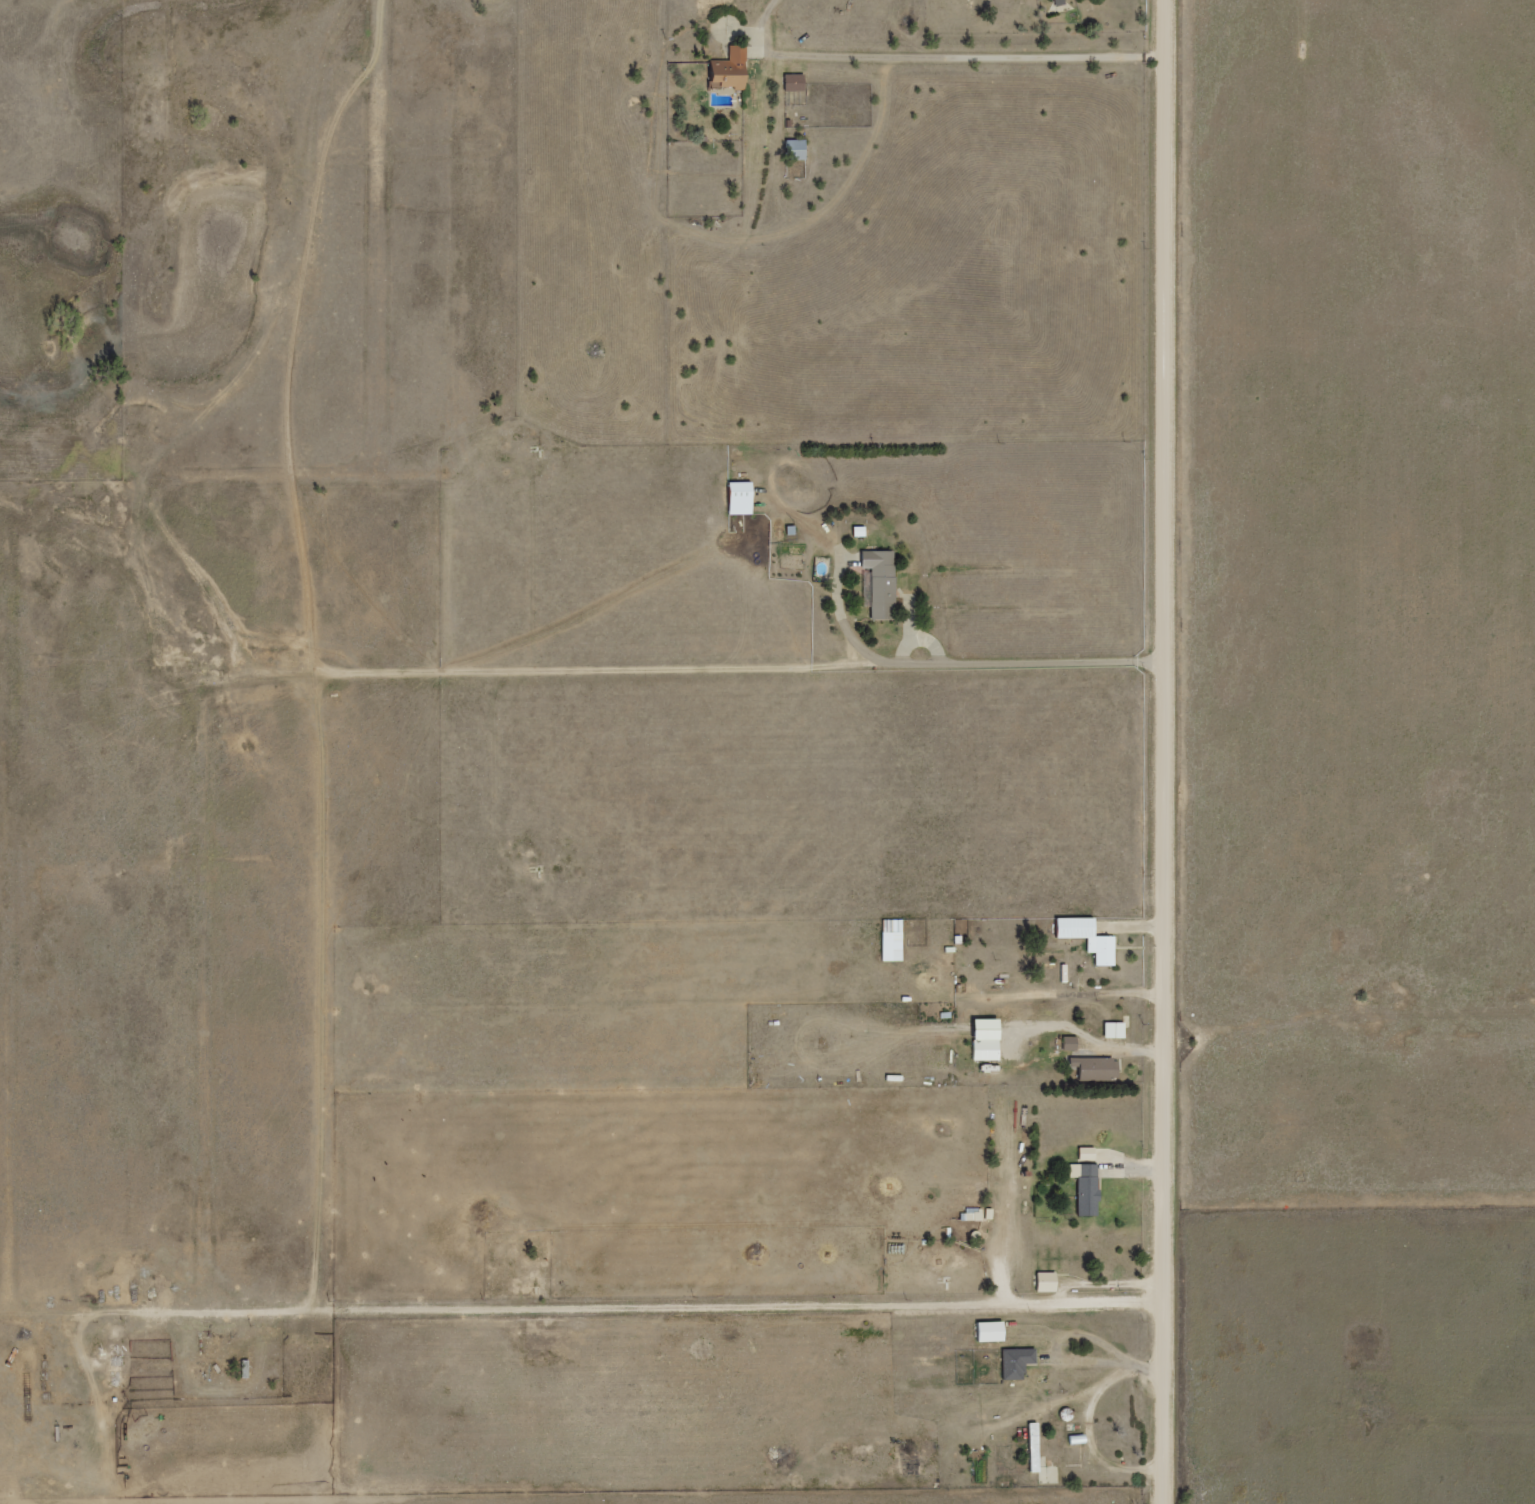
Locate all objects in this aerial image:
building: (1059, 2)
building: (730, 67)
building: (795, 81)
building: (796, 149)
road: (1170, 332)
building: (740, 497)
building: (881, 581)
building: (1088, 937)
building: (893, 939)
building: (1114, 1028)
building: (1070, 1042)
building: (986, 1049)
building: (1096, 1066)
road: (1169, 1083)
building: (1086, 1152)
building: (1087, 1187)
building: (1046, 1281)
road: (841, 1322)
building: (990, 1330)
building: (1017, 1361)
building: (1034, 1446)

